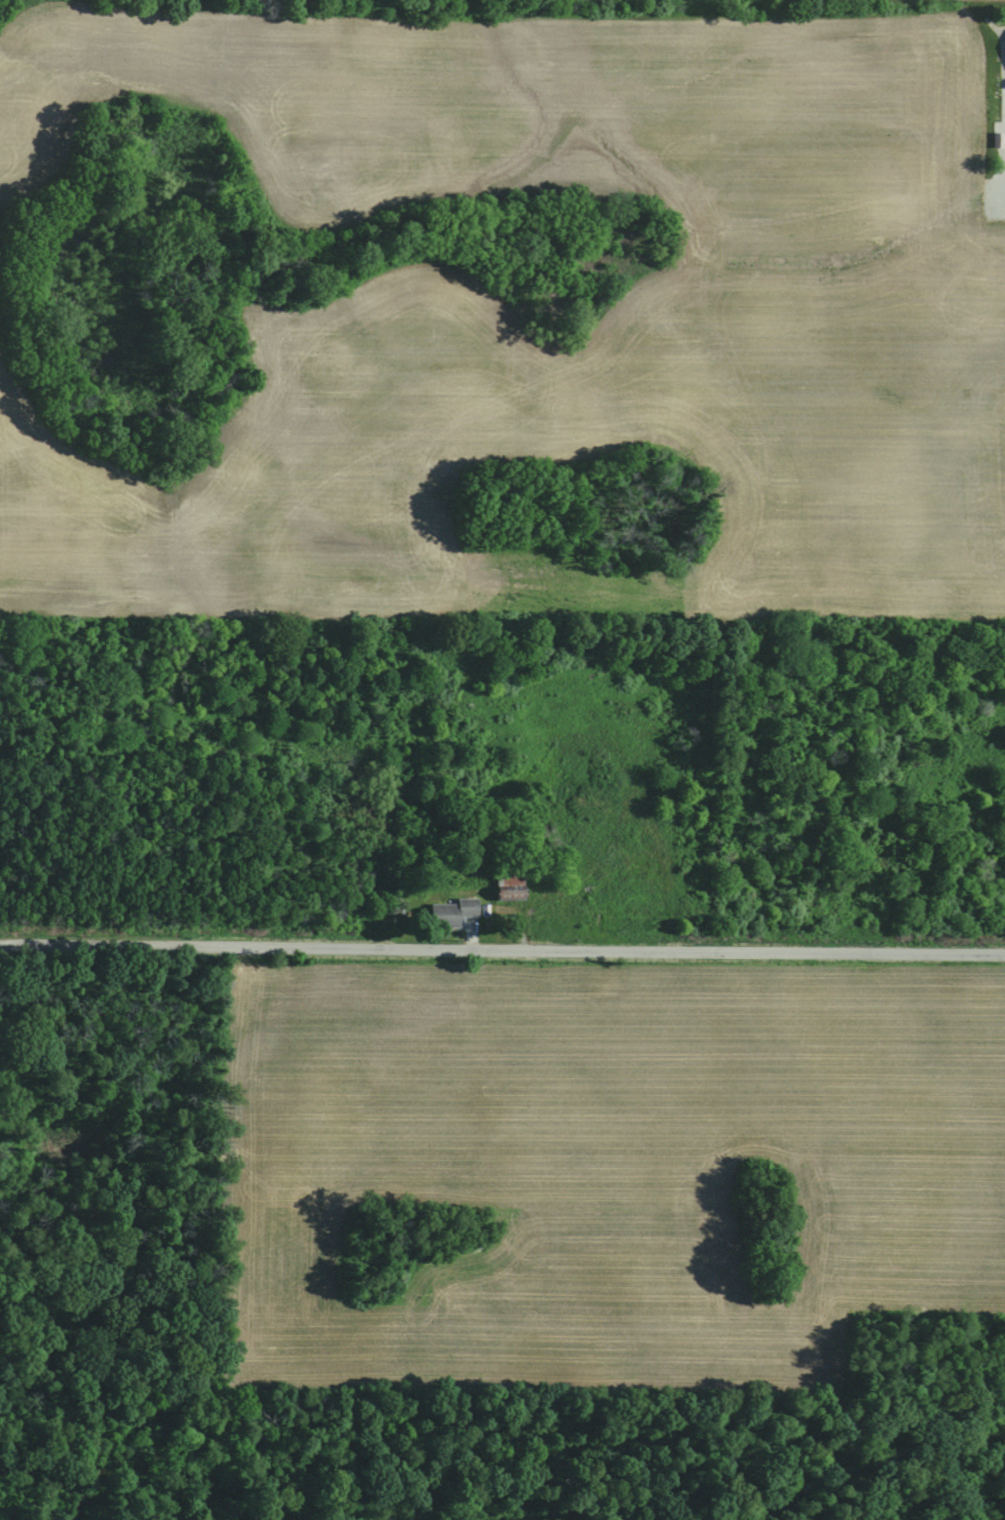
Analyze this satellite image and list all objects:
building: (511, 885)
building: (453, 913)
road: (502, 954)

